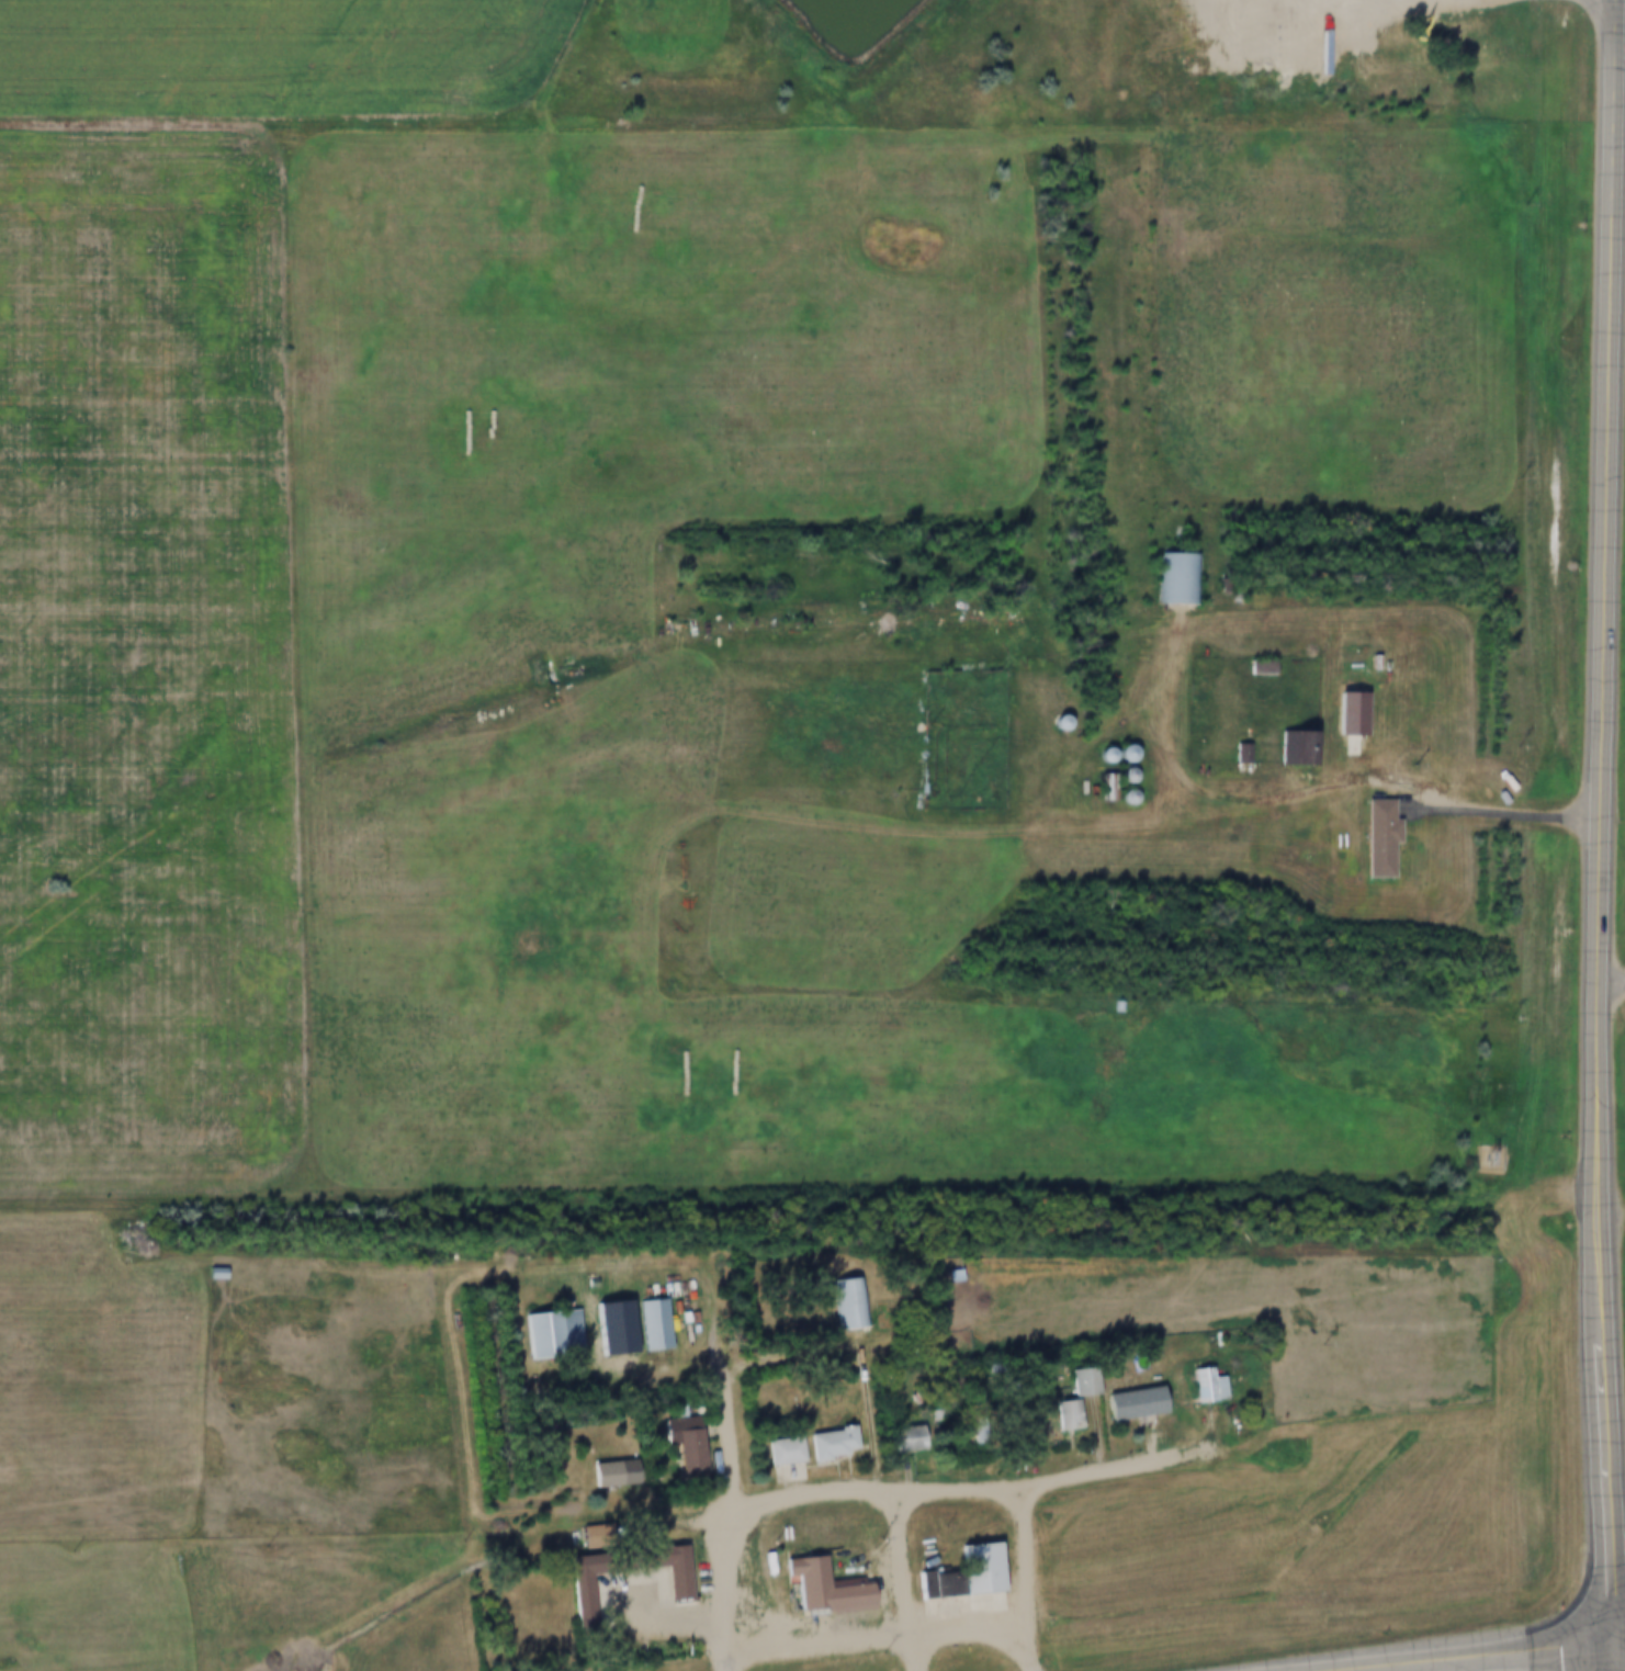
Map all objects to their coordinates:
road: (1606, 411)
building: (1178, 576)
building: (1361, 713)
building: (1304, 747)
building: (1244, 753)
building: (1111, 787)
road: (1317, 792)
building: (1387, 836)
road: (1600, 1247)
building: (219, 1272)
building: (850, 1302)
road: (701, 1305)
building: (658, 1324)
building: (556, 1334)
building: (1214, 1386)
building: (1081, 1398)
building: (1137, 1403)
building: (913, 1437)
building: (837, 1443)
building: (691, 1446)
building: (789, 1450)
building: (622, 1474)
road: (889, 1493)
building: (603, 1535)
building: (685, 1572)
building: (974, 1573)
road: (1027, 1578)
road: (903, 1582)
building: (834, 1588)
road: (730, 1591)
building: (589, 1602)
road: (881, 1627)
road: (1505, 1657)

